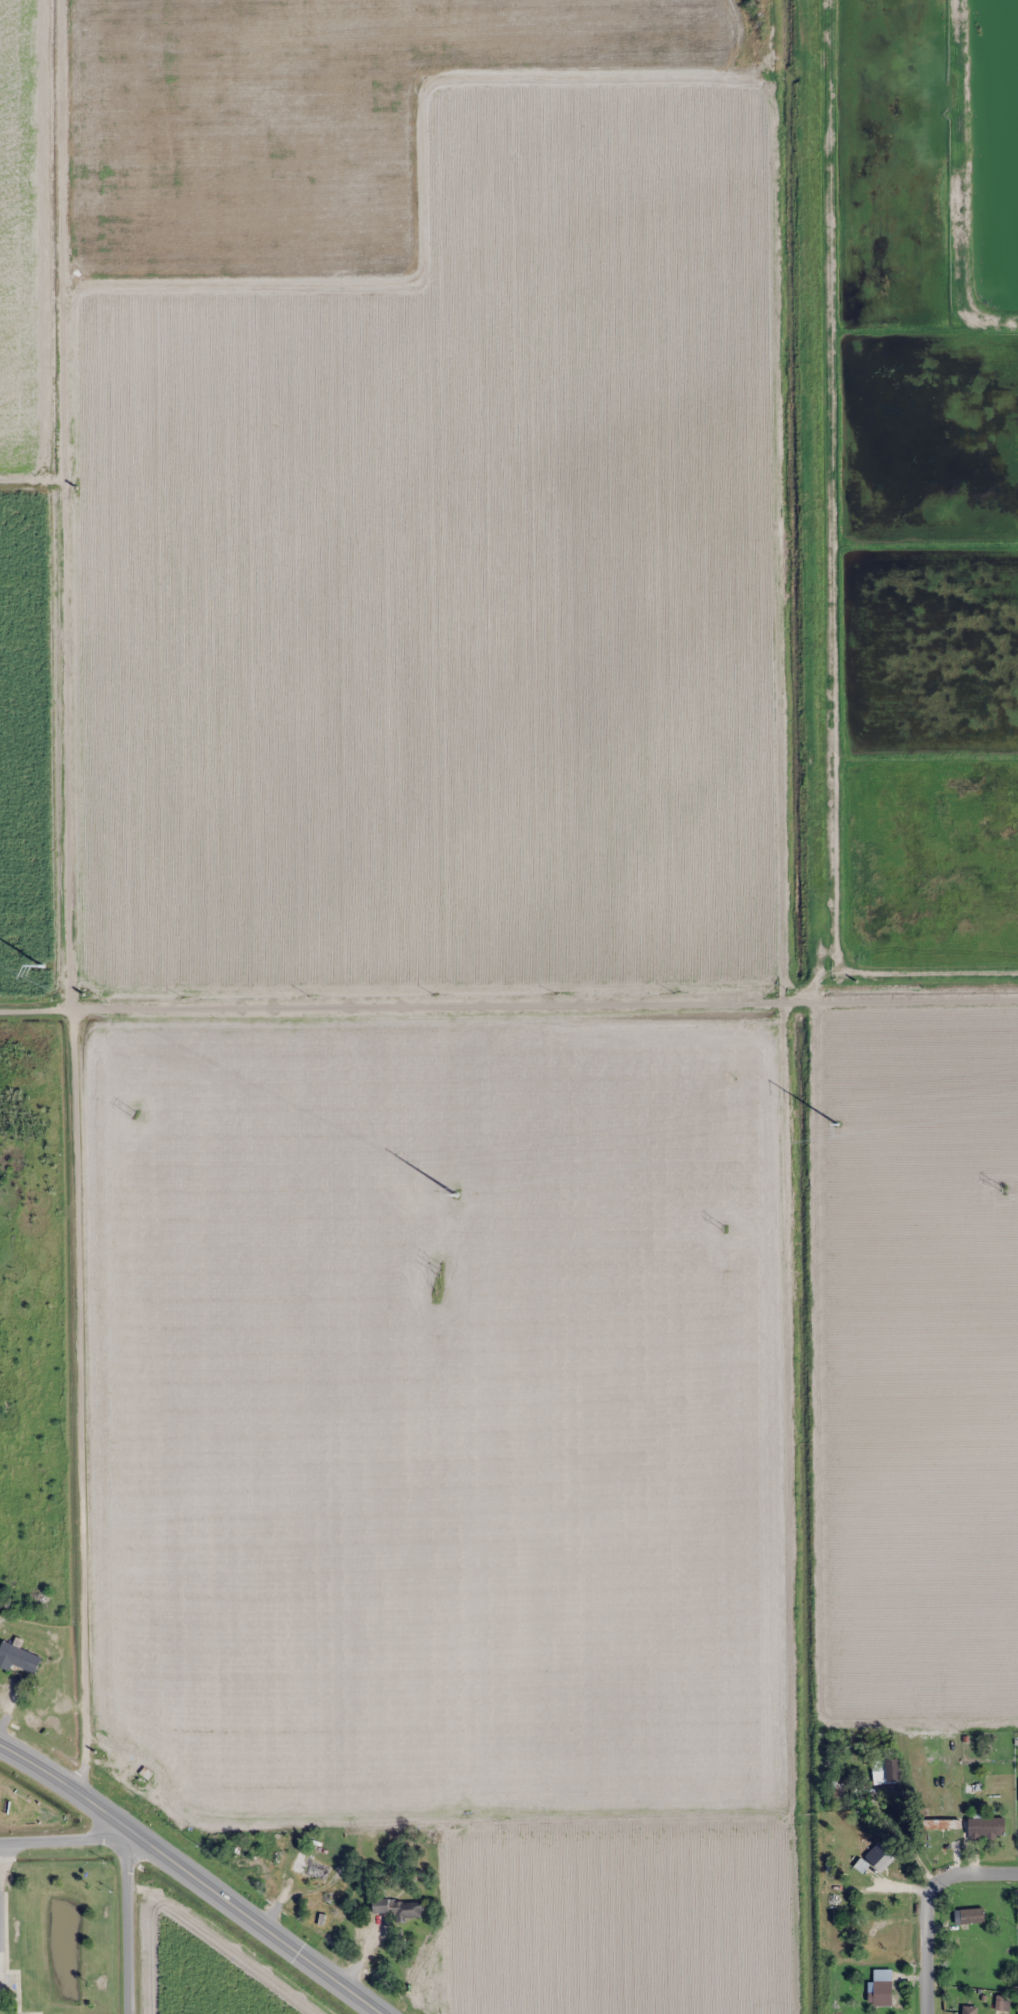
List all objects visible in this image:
road: (70, 896)
power tower: (41, 966)
road: (508, 1003)
power tower: (135, 1115)
power tower: (835, 1124)
power tower: (1004, 1190)
power tower: (455, 1194)
power tower: (724, 1229)
power tower: (441, 1271)
building: (18, 1657)
building: (886, 1770)
building: (839, 1788)
building: (986, 1827)
road: (68, 1840)
building: (879, 1856)
building: (279, 1859)
building: (310, 1868)
road: (191, 1876)
road: (926, 1906)
building: (400, 1908)
building: (972, 1915)
road: (129, 1924)
building: (881, 1993)
building: (968, 2012)

